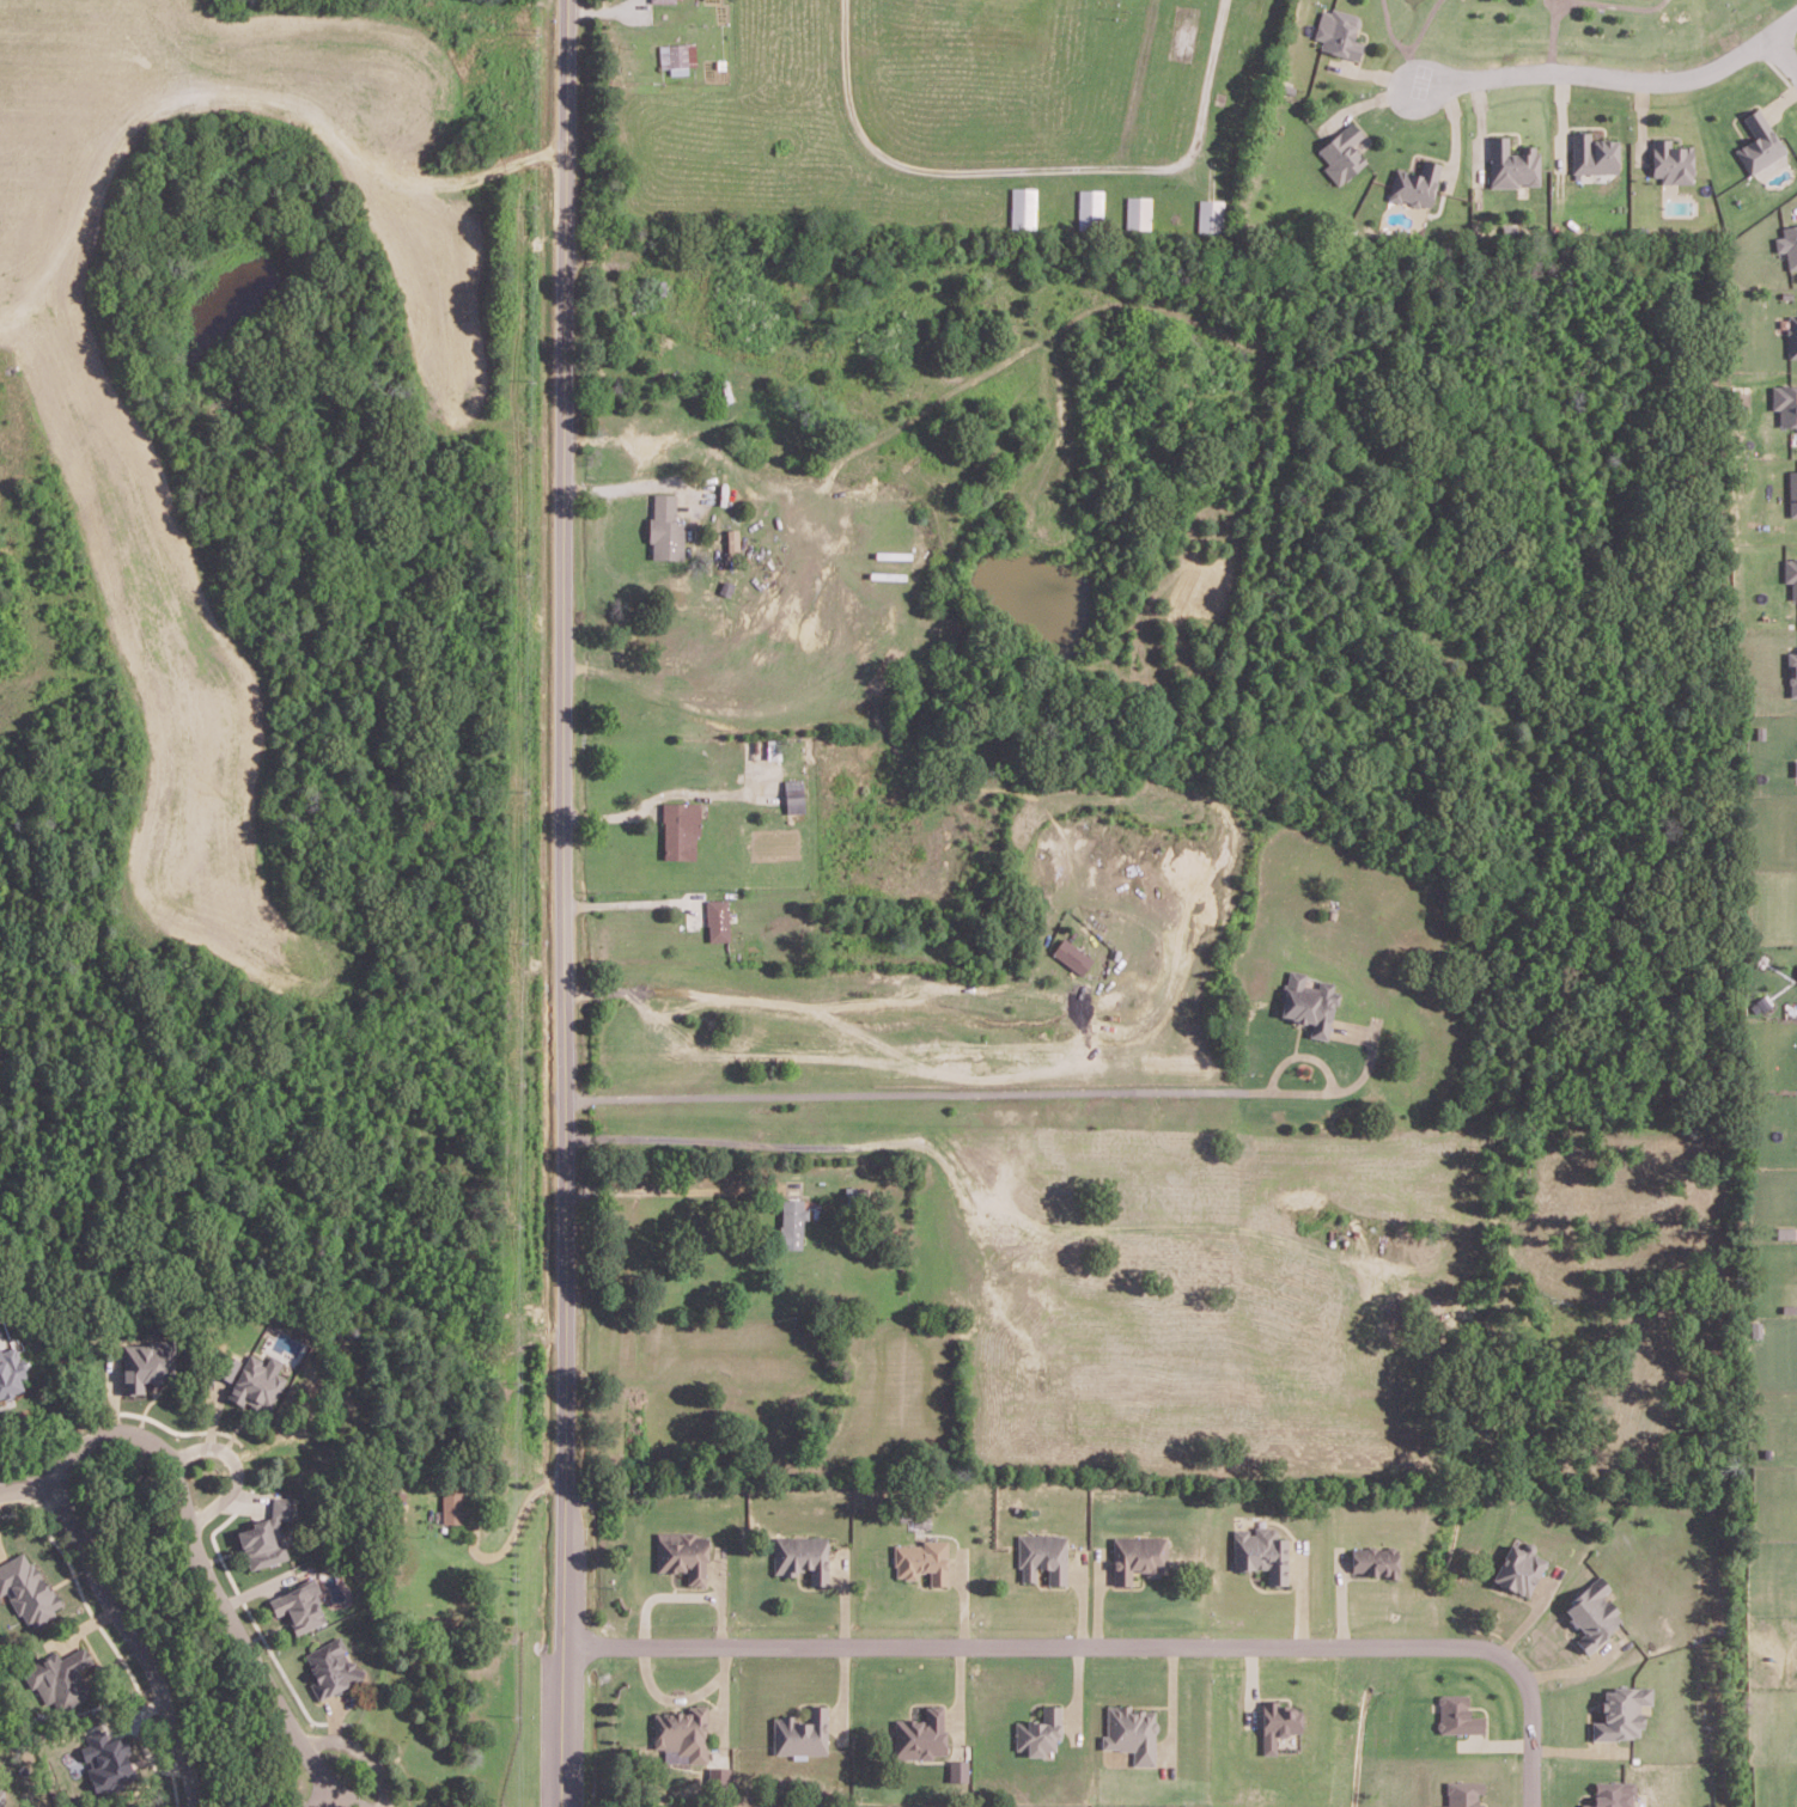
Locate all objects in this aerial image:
building: (660, 0)
road: (1645, 0)
road: (604, 10)
building: (1338, 32)
road: (1551, 32)
road: (1406, 38)
road: (1784, 45)
building: (675, 55)
road: (1411, 60)
road: (1612, 71)
road: (1134, 79)
building: (1758, 142)
building: (1341, 152)
building: (1591, 153)
building: (1670, 160)
road: (1032, 161)
building: (1511, 163)
building: (1414, 184)
building: (1022, 206)
building: (1089, 208)
building: (1137, 210)
building: (1210, 214)
building: (1787, 244)
building: (645, 291)
building: (1791, 335)
building: (1785, 403)
road: (621, 488)
building: (1791, 492)
building: (663, 527)
building: (732, 538)
building: (1790, 574)
building: (1791, 672)
building: (1793, 767)
road: (668, 790)
building: (792, 793)
building: (678, 825)
road: (564, 903)
road: (621, 903)
building: (714, 917)
building: (1076, 957)
building: (1796, 971)
road: (830, 999)
building: (1308, 1002)
road: (1001, 1083)
road: (674, 1189)
building: (792, 1220)
building: (146, 1362)
building: (10, 1368)
building: (255, 1381)
road: (112, 1394)
road: (213, 1402)
road: (68, 1454)
road: (236, 1464)
road: (245, 1496)
building: (452, 1507)
building: (263, 1534)
building: (1260, 1551)
building: (682, 1553)
building: (800, 1556)
building: (1042, 1556)
building: (1138, 1556)
building: (921, 1559)
building: (1372, 1559)
building: (1518, 1568)
building: (26, 1586)
road: (256, 1589)
road: (680, 1594)
building: (297, 1604)
building: (1592, 1612)
road: (83, 1626)
road: (238, 1632)
road: (133, 1638)
road: (1042, 1638)
building: (329, 1666)
building: (55, 1675)
building: (1622, 1711)
building: (1456, 1714)
road: (335, 1716)
building: (1277, 1723)
building: (1038, 1730)
road: (1533, 1730)
building: (800, 1732)
building: (1131, 1732)
building: (682, 1733)
building: (920, 1734)
road: (144, 1742)
road: (363, 1746)
building: (108, 1759)
building: (957, 1769)
building: (715, 1774)
road: (321, 1793)
building: (1462, 1793)
building: (1613, 1794)
building: (1, 1795)

